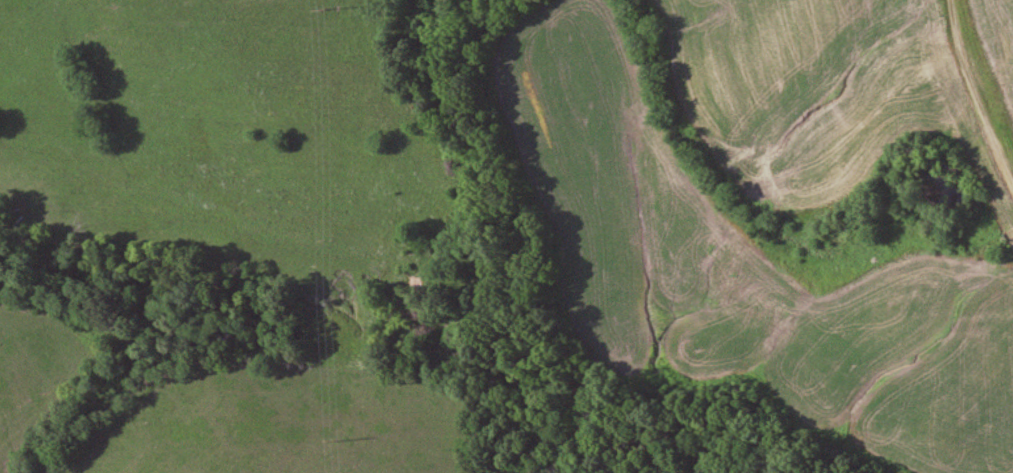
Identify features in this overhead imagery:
power tower: (327, 2)
road: (982, 87)
power tower: (334, 437)

